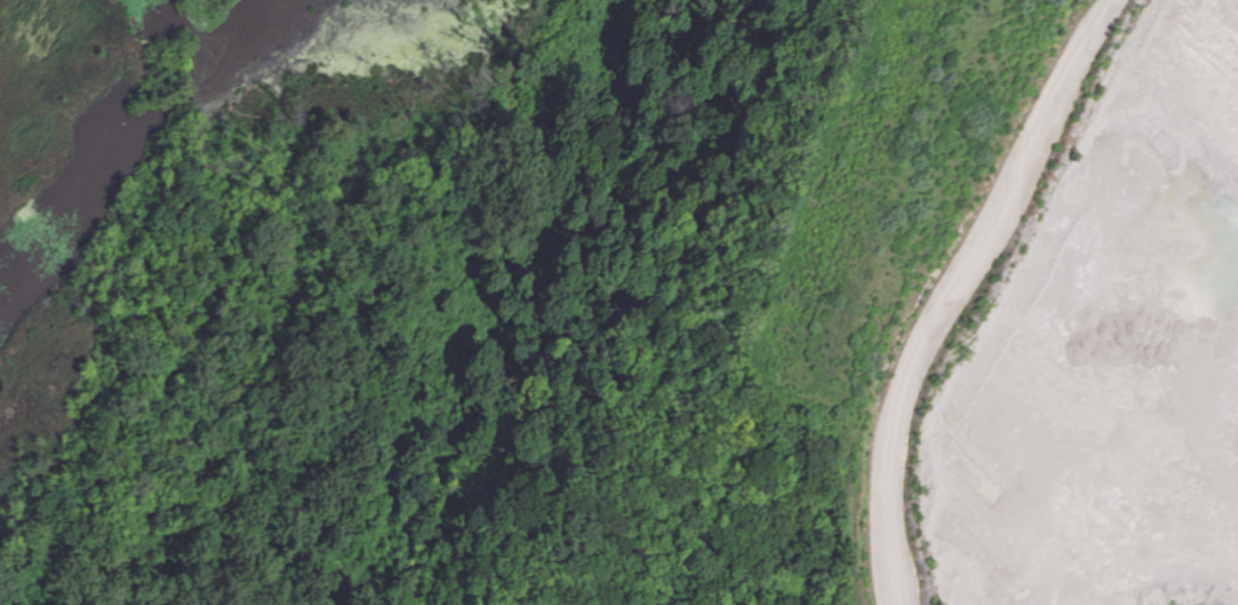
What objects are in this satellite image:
quarry: (1077, 344)

